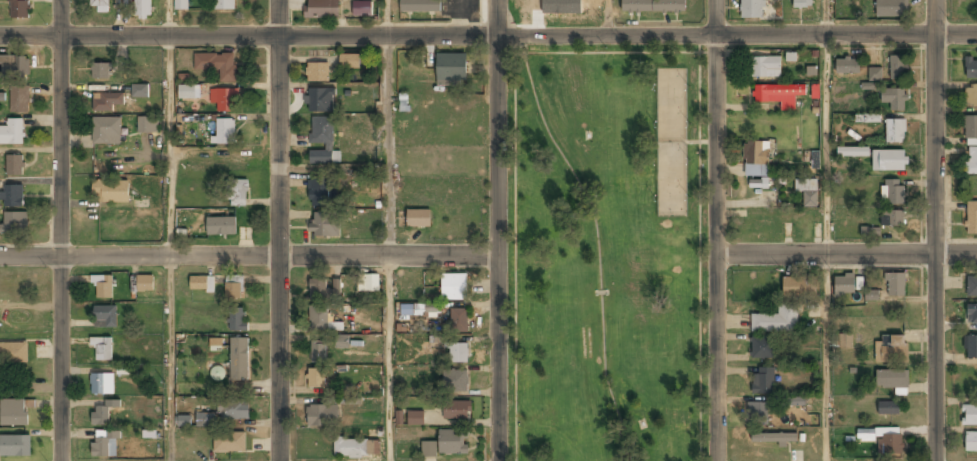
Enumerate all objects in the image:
building: (801, 3)
building: (225, 4)
building: (181, 5)
building: (99, 6)
building: (419, 6)
building: (653, 6)
building: (362, 8)
building: (891, 8)
building: (19, 9)
building: (143, 9)
building: (321, 9)
building: (752, 9)
road: (606, 17)
road: (825, 17)
road: (169, 18)
road: (386, 18)
road: (488, 36)
building: (348, 62)
building: (217, 65)
building: (14, 67)
building: (766, 67)
building: (847, 67)
building: (451, 68)
building: (897, 68)
building: (971, 69)
building: (102, 72)
building: (317, 72)
building: (874, 74)
building: (140, 91)
building: (186, 91)
building: (778, 94)
building: (970, 96)
building: (894, 99)
building: (19, 100)
building: (226, 100)
building: (319, 100)
building: (106, 102)
building: (867, 118)
building: (147, 125)
building: (970, 128)
building: (895, 131)
building: (12, 132)
building: (106, 132)
building: (224, 132)
building: (323, 142)
building: (853, 152)
building: (756, 159)
building: (889, 161)
building: (971, 161)
building: (814, 162)
building: (14, 166)
road: (700, 170)
building: (758, 183)
building: (111, 191)
building: (238, 193)
building: (319, 193)
building: (808, 193)
building: (892, 193)
building: (13, 197)
building: (418, 219)
building: (892, 219)
building: (971, 219)
building: (15, 222)
building: (324, 225)
building: (220, 227)
road: (61, 230)
road: (278, 230)
road: (497, 230)
road: (716, 230)
road: (935, 230)
building: (869, 231)
road: (827, 247)
road: (389, 248)
road: (511, 248)
road: (170, 249)
road: (596, 251)
park: (607, 253)
road: (846, 255)
road: (248, 257)
building: (201, 283)
building: (368, 283)
building: (858, 283)
building: (144, 284)
building: (894, 285)
building: (845, 286)
building: (103, 287)
building: (233, 287)
building: (454, 287)
building: (971, 287)
building: (799, 289)
building: (324, 290)
building: (871, 295)
building: (406, 310)
building: (432, 310)
building: (972, 315)
building: (105, 317)
building: (237, 319)
building: (322, 320)
building: (459, 321)
building: (776, 321)
building: (845, 340)
building: (342, 341)
building: (215, 344)
building: (970, 347)
building: (763, 348)
building: (102, 349)
building: (890, 349)
building: (13, 353)
building: (317, 353)
building: (457, 354)
building: (239, 360)
building: (315, 379)
building: (892, 379)
building: (763, 381)
building: (455, 382)
building: (101, 384)
building: (8, 389)
building: (796, 402)
building: (888, 408)
building: (233, 410)
building: (456, 411)
building: (757, 413)
building: (13, 414)
building: (102, 414)
building: (969, 415)
building: (321, 416)
building: (399, 417)
building: (205, 419)
building: (416, 419)
building: (183, 421)
building: (774, 438)
building: (883, 438)
building: (229, 443)
building: (971, 443)
building: (105, 444)
building: (447, 444)
building: (15, 446)
building: (356, 448)

